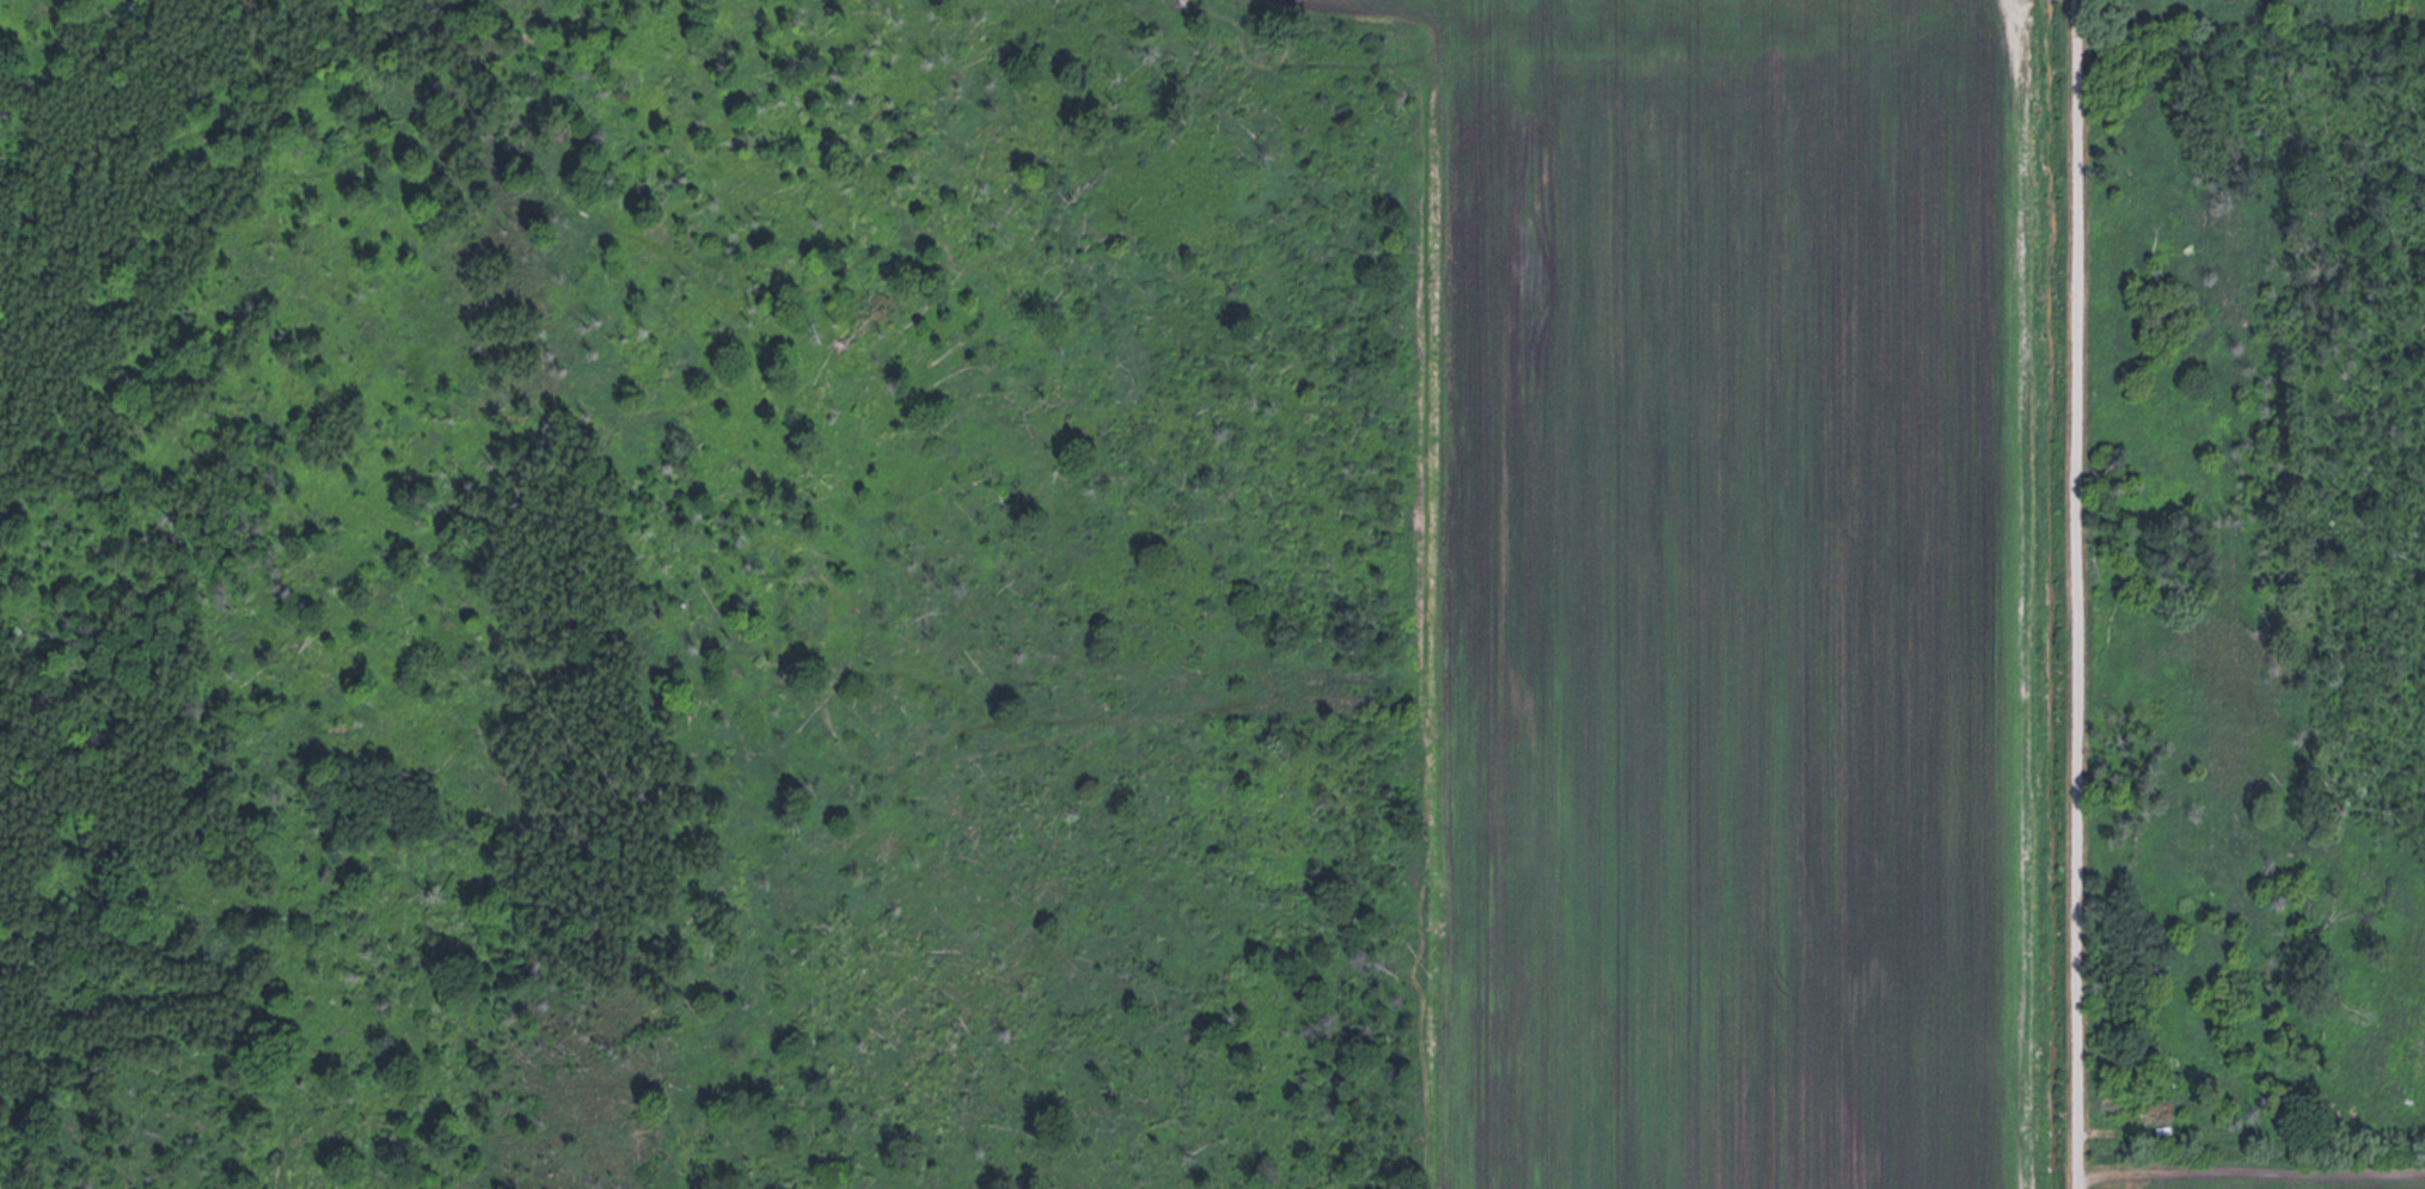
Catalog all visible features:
road: (2077, 594)

